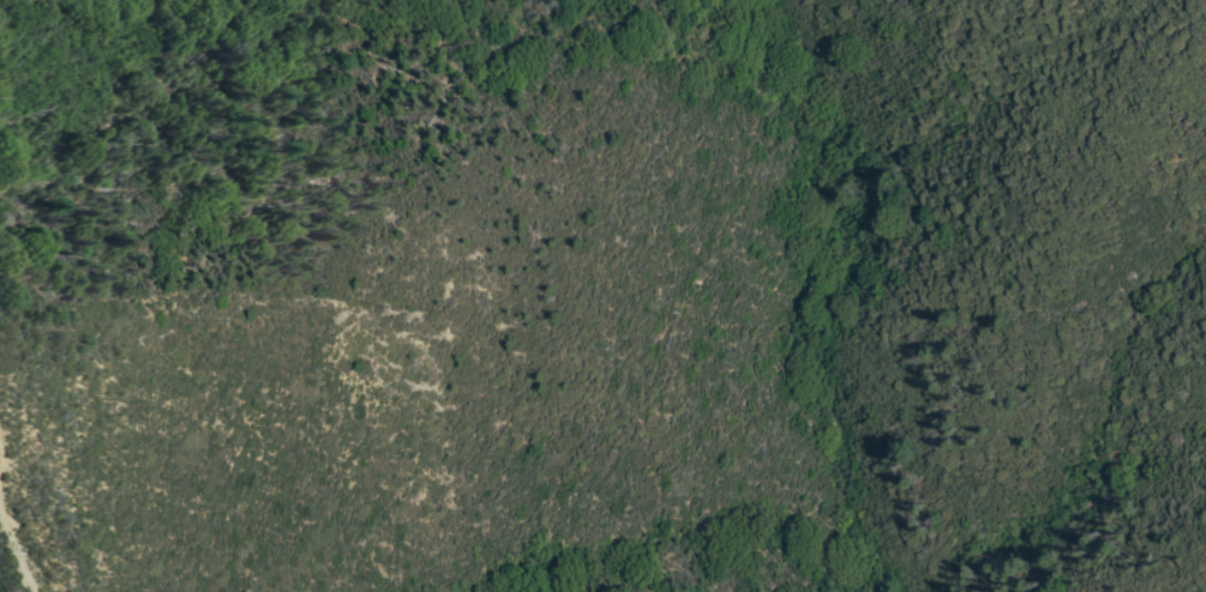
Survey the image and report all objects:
road: (17, 546)

